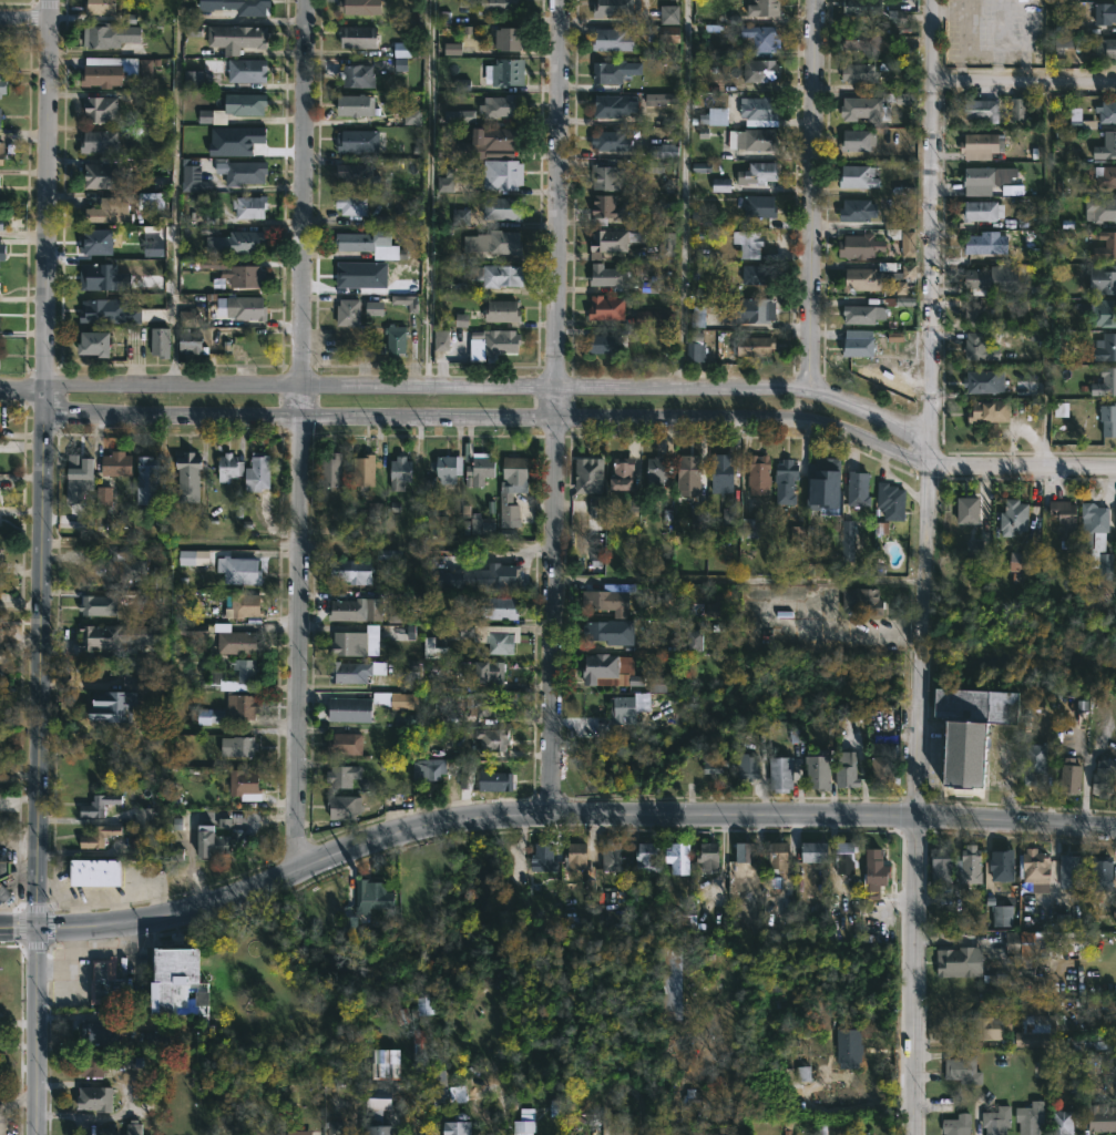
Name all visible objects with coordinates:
building: (238, 6)
building: (360, 6)
building: (502, 6)
building: (100, 7)
building: (863, 7)
building: (615, 8)
building: (1105, 11)
building: (765, 12)
building: (668, 14)
road: (24, 17)
building: (668, 34)
building: (110, 35)
building: (358, 35)
building: (236, 37)
building: (510, 38)
building: (614, 39)
building: (762, 39)
building: (861, 40)
building: (1063, 42)
building: (0, 48)
building: (1106, 48)
building: (452, 49)
building: (401, 51)
building: (247, 70)
building: (762, 70)
building: (505, 72)
building: (860, 72)
building: (101, 73)
building: (608, 73)
building: (356, 75)
building: (191, 80)
road: (1024, 83)
building: (2, 85)
building: (658, 99)
building: (902, 99)
building: (248, 102)
building: (356, 104)
building: (614, 104)
building: (500, 105)
building: (867, 108)
building: (101, 109)
building: (1016, 109)
building: (983, 110)
building: (760, 111)
building: (1107, 111)
building: (0, 114)
building: (411, 116)
building: (459, 116)
building: (715, 116)
building: (249, 139)
building: (757, 140)
building: (859, 140)
building: (358, 141)
building: (99, 142)
building: (482, 142)
building: (611, 142)
building: (983, 144)
building: (1107, 146)
building: (663, 151)
building: (1, 153)
building: (240, 171)
building: (355, 174)
building: (503, 174)
building: (104, 175)
building: (760, 175)
building: (1106, 175)
building: (859, 176)
building: (193, 177)
building: (605, 177)
building: (992, 181)
building: (446, 182)
building: (720, 184)
road: (175, 194)
road: (427, 194)
road: (44, 195)
road: (556, 195)
road: (682, 195)
road: (813, 198)
building: (351, 204)
building: (761, 206)
building: (250, 207)
building: (503, 207)
building: (1102, 208)
building: (607, 209)
building: (858, 209)
building: (983, 209)
building: (110, 211)
building: (460, 217)
building: (0, 223)
building: (246, 241)
building: (612, 241)
building: (96, 243)
building: (493, 243)
building: (749, 243)
building: (371, 244)
building: (907, 244)
building: (995, 245)
building: (1110, 245)
building: (667, 246)
building: (860, 246)
building: (1, 253)
building: (757, 274)
building: (499, 275)
building: (608, 275)
building: (246, 276)
building: (1104, 277)
building: (102, 278)
building: (866, 279)
building: (911, 279)
building: (993, 279)
building: (405, 301)
building: (905, 301)
building: (95, 307)
building: (246, 308)
building: (373, 308)
building: (606, 308)
building: (502, 310)
building: (751, 310)
building: (1102, 311)
building: (348, 313)
building: (695, 313)
building: (975, 313)
building: (864, 314)
building: (190, 319)
building: (654, 319)
building: (894, 336)
building: (396, 340)
building: (441, 340)
building: (495, 340)
building: (191, 341)
building: (160, 342)
building: (94, 344)
building: (608, 344)
building: (754, 346)
building: (975, 346)
building: (696, 347)
building: (859, 347)
building: (1107, 348)
building: (987, 381)
building: (1106, 382)
road: (297, 389)
road: (20, 390)
road: (750, 392)
road: (555, 406)
road: (932, 408)
building: (989, 411)
road: (293, 418)
building: (1108, 419)
road: (746, 421)
road: (300, 431)
building: (116, 463)
road: (1021, 466)
building: (229, 467)
building: (79, 469)
building: (331, 469)
building: (480, 469)
building: (657, 469)
building: (364, 470)
building: (400, 472)
building: (257, 473)
building: (448, 473)
building: (689, 473)
building: (724, 473)
building: (759, 474)
building: (588, 476)
building: (188, 477)
building: (147, 481)
building: (786, 481)
building: (626, 483)
building: (825, 485)
building: (513, 488)
building: (858, 489)
building: (892, 501)
building: (103, 504)
building: (596, 507)
building: (969, 510)
building: (729, 517)
building: (1065, 517)
building: (1015, 518)
building: (432, 521)
building: (1115, 523)
building: (482, 526)
building: (748, 529)
building: (337, 530)
building: (795, 532)
building: (847, 542)
building: (1097, 544)
building: (974, 546)
building: (193, 558)
building: (1023, 562)
building: (127, 565)
building: (239, 571)
building: (352, 571)
building: (495, 576)
building: (618, 587)
building: (863, 600)
building: (608, 601)
building: (99, 606)
building: (244, 606)
building: (499, 609)
building: (351, 611)
road: (553, 615)
building: (396, 616)
building: (603, 630)
building: (190, 632)
building: (117, 636)
building: (494, 637)
building: (236, 641)
building: (694, 642)
building: (357, 643)
building: (429, 648)
road: (38, 659)
building: (602, 671)
building: (349, 673)
building: (483, 673)
building: (246, 676)
building: (656, 686)
building: (396, 701)
building: (114, 704)
building: (487, 705)
building: (242, 706)
building: (631, 707)
building: (351, 709)
building: (206, 716)
building: (405, 718)
building: (970, 733)
building: (493, 739)
building: (345, 744)
building: (239, 748)
building: (1035, 763)
building: (711, 765)
building: (749, 767)
building: (426, 770)
building: (818, 770)
building: (781, 773)
building: (883, 773)
building: (848, 774)
building: (339, 777)
building: (1071, 777)
building: (1105, 778)
building: (501, 783)
building: (245, 786)
building: (98, 806)
building: (344, 806)
building: (143, 818)
road: (448, 819)
road: (1014, 822)
building: (98, 836)
building: (211, 840)
building: (744, 852)
building: (817, 852)
building: (846, 855)
building: (612, 856)
building: (544, 857)
building: (679, 858)
building: (709, 858)
building: (647, 859)
building: (780, 860)
building: (581, 861)
building: (970, 865)
building: (941, 866)
building: (1003, 866)
building: (1036, 867)
building: (3, 868)
building: (1071, 870)
building: (1103, 872)
building: (95, 873)
building: (876, 875)
building: (3, 893)
building: (368, 900)
building: (1002, 916)
building: (1062, 921)
traffic signals: (34, 928)
building: (1069, 940)
building: (1027, 949)
building: (961, 961)
building: (176, 974)
road: (915, 975)
building: (106, 979)
building: (670, 982)
building: (1102, 1003)
building: (426, 1005)
building: (991, 1023)
road: (34, 1031)
building: (102, 1031)
building: (158, 1037)
building: (422, 1040)
building: (1086, 1044)
building: (850, 1046)
building: (94, 1062)
building: (385, 1064)
building: (964, 1068)
building: (444, 1087)
building: (95, 1097)
road: (14, 1100)
building: (380, 1104)
building: (1103, 1116)
building: (1031, 1117)
building: (999, 1119)
building: (79, 1122)
building: (1063, 1122)
building: (524, 1123)
building: (958, 1124)
building: (134, 1127)
building: (335, 1127)
building: (458, 1128)
building: (298, 1132)

